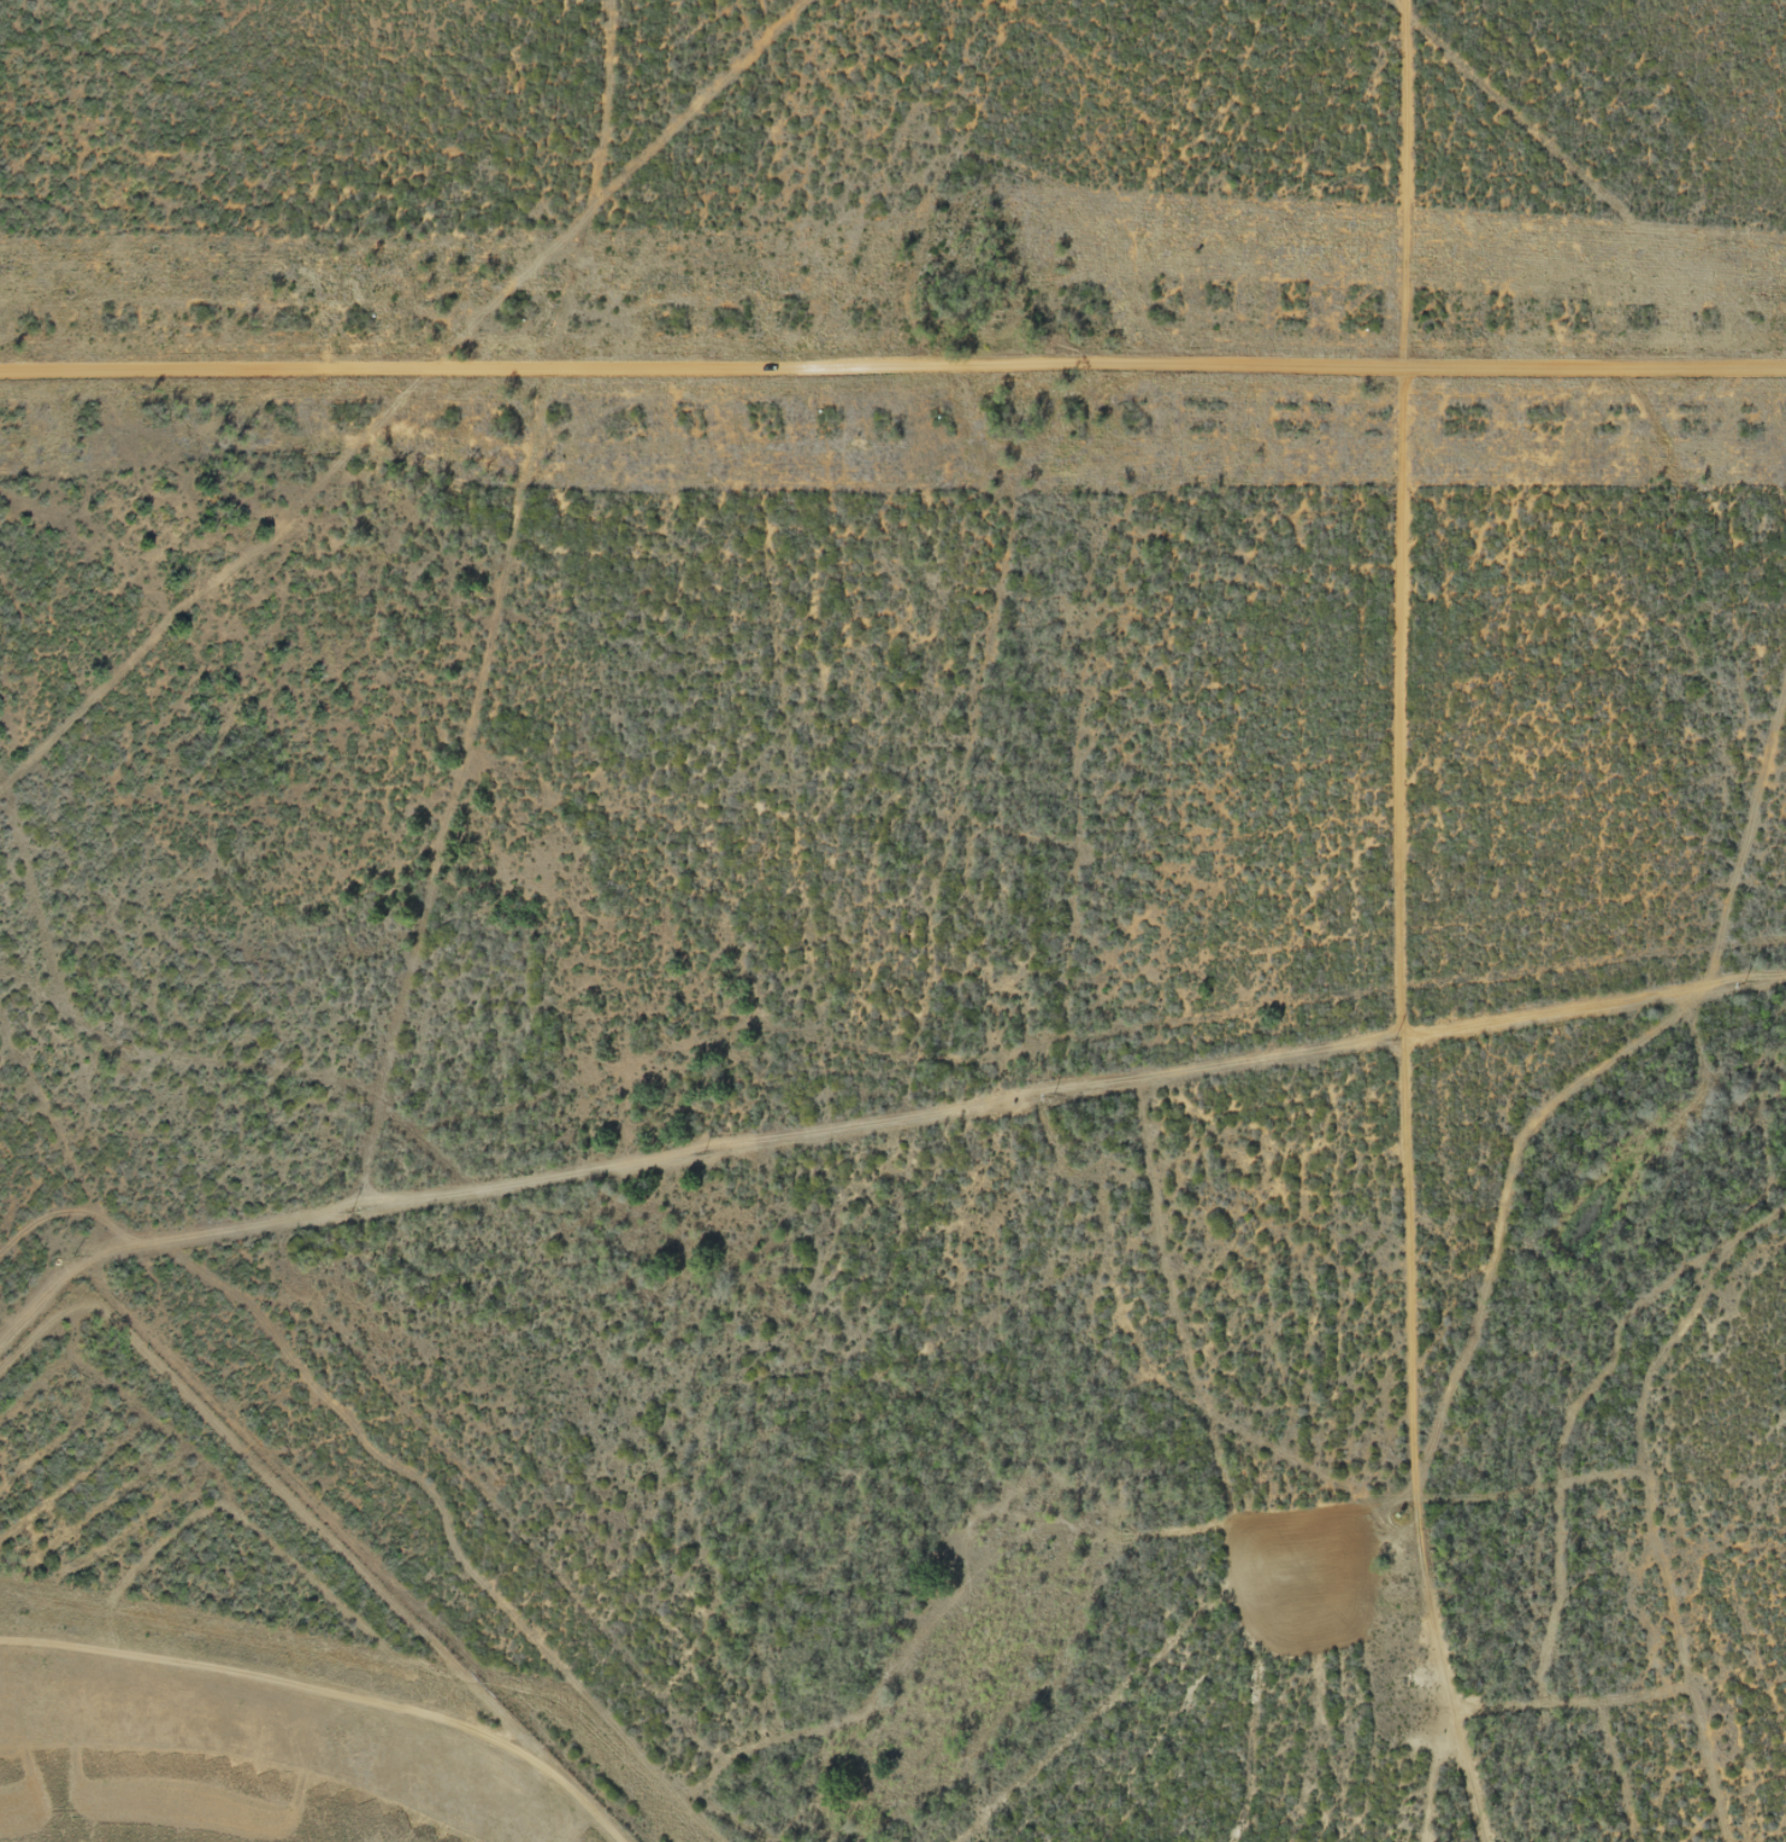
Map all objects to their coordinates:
road: (1531, 186)
road: (892, 393)
road: (1417, 924)
power tower: (1741, 983)
power tower: (1393, 1041)
power tower: (1051, 1097)
power tower: (702, 1154)
power tower: (350, 1212)
power tower: (73, 1255)
road: (1667, 1525)

